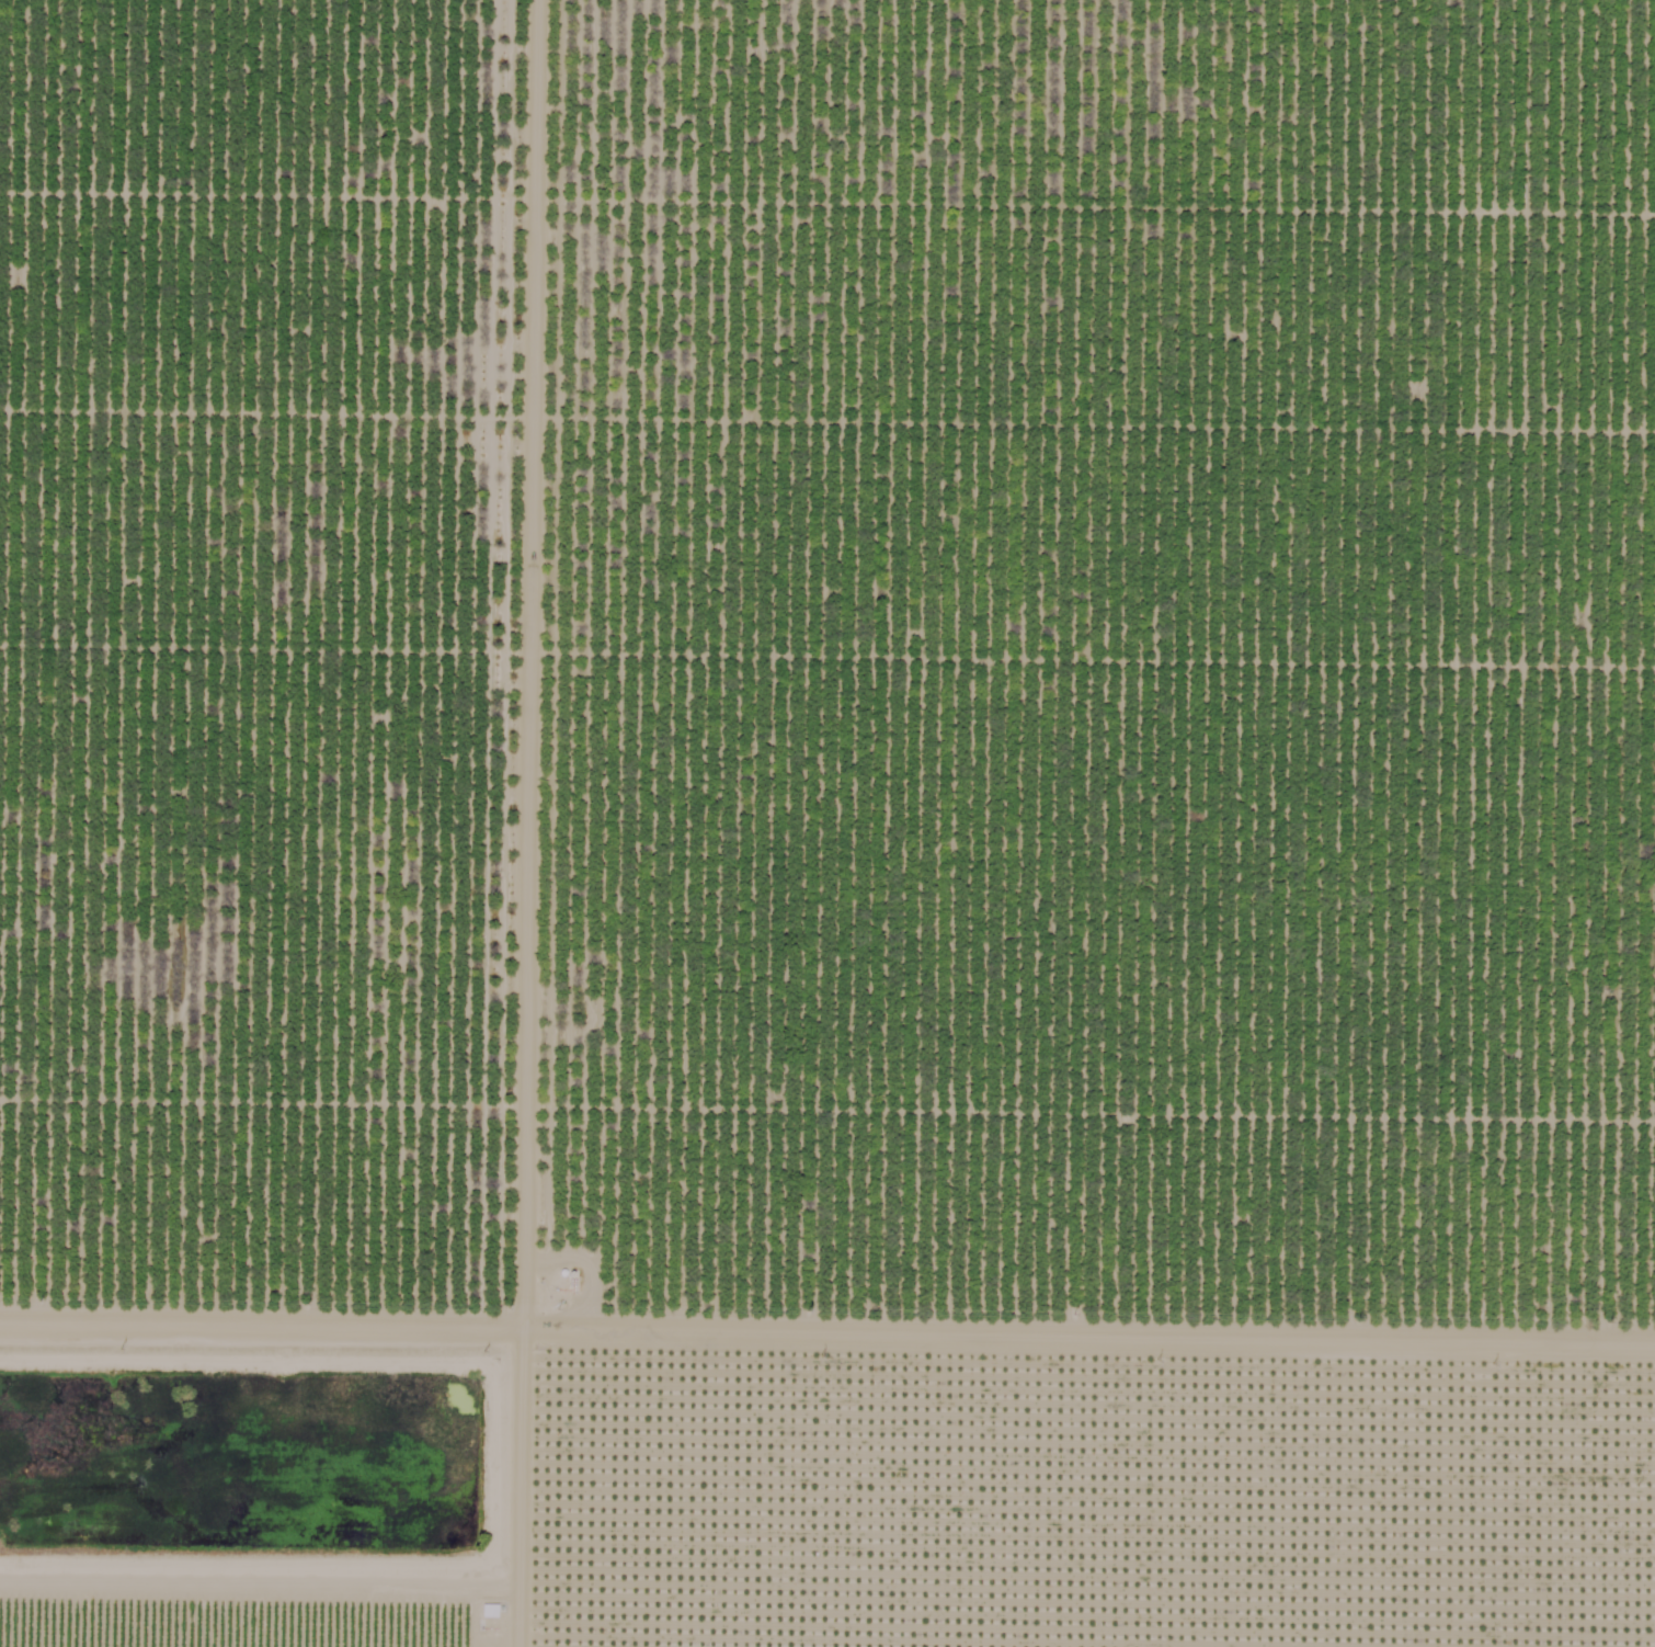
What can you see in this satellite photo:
road: (577, 823)
road: (287, 1303)
road: (1115, 1307)
crop: (284, 1462)
crop: (1111, 1468)

